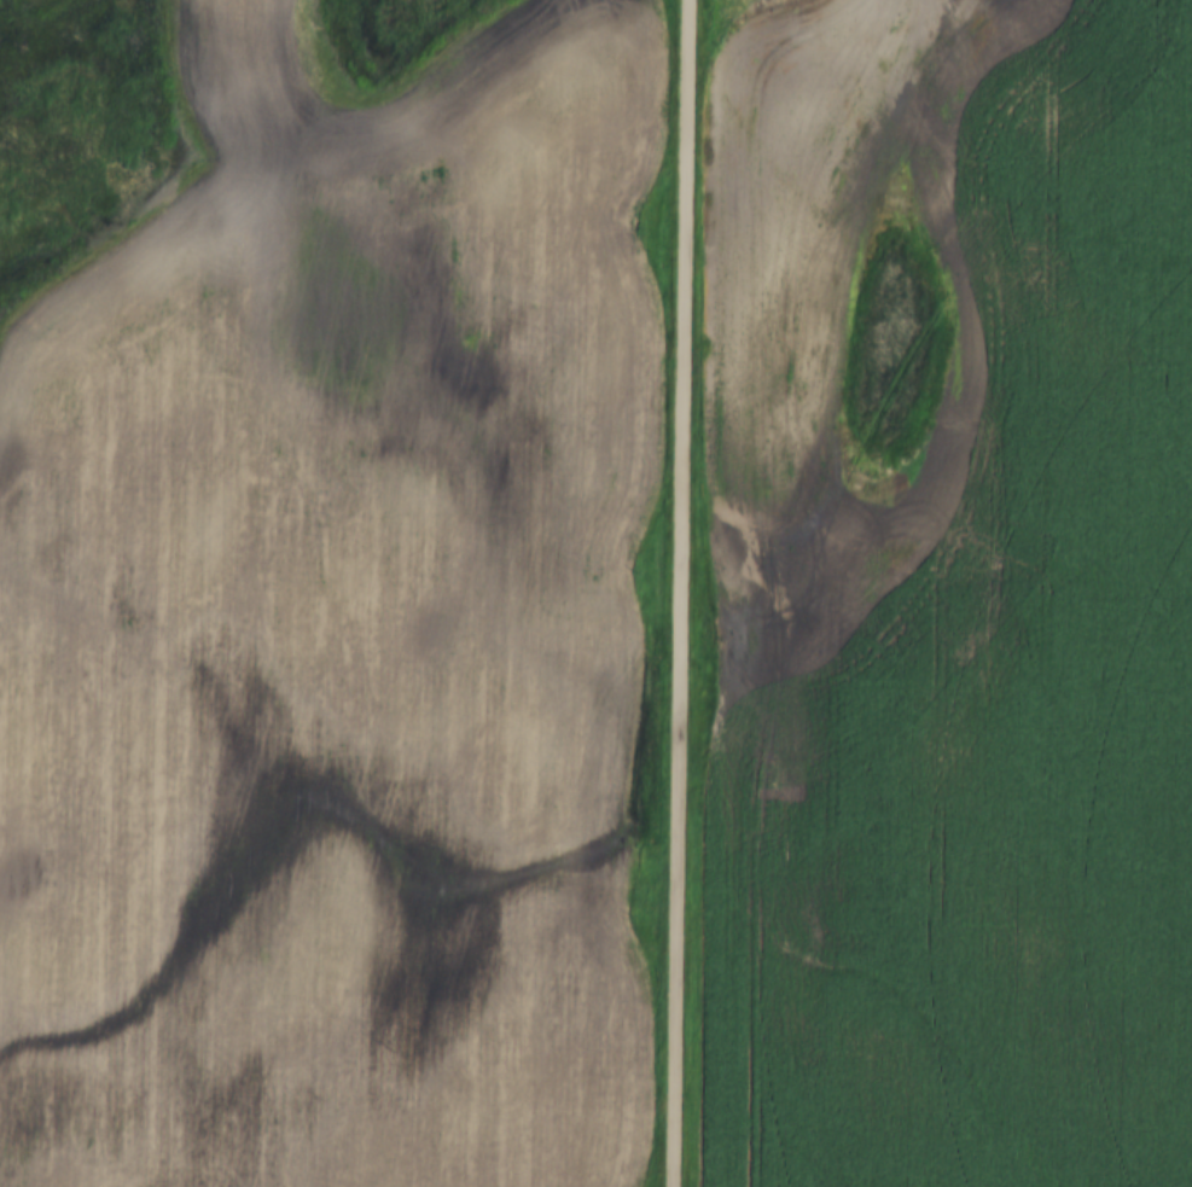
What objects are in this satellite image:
road: (668, 593)

